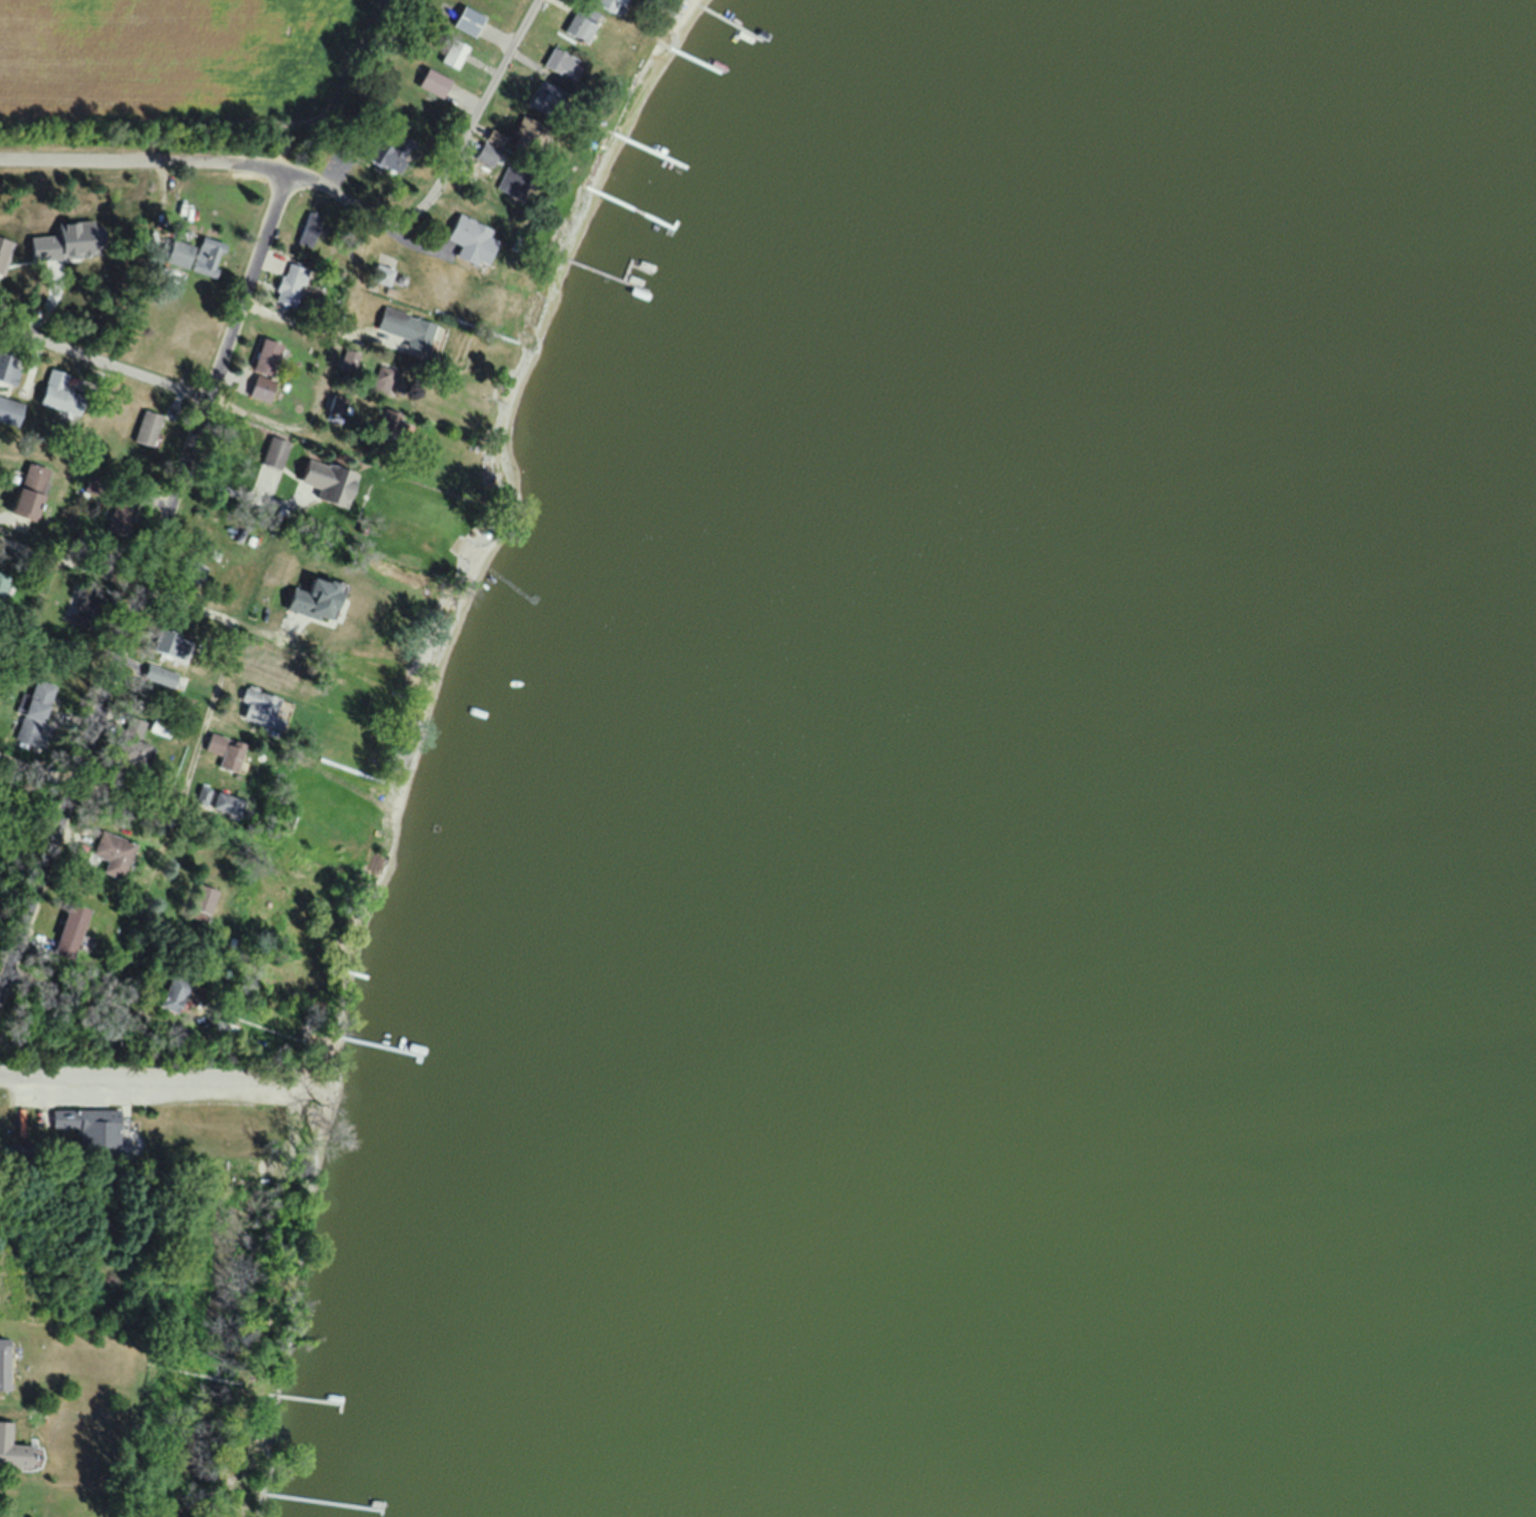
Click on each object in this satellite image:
building: (602, 4)
building: (470, 22)
building: (579, 23)
building: (455, 55)
building: (556, 63)
building: (434, 83)
building: (543, 97)
road: (479, 122)
building: (493, 139)
building: (485, 154)
building: (387, 156)
road: (206, 163)
building: (510, 182)
building: (309, 229)
building: (469, 240)
building: (194, 256)
building: (381, 275)
building: (287, 285)
building: (403, 328)
road: (347, 341)
road: (106, 363)
building: (9, 370)
building: (263, 370)
building: (382, 379)
building: (55, 392)
building: (336, 404)
building: (6, 411)
building: (274, 453)
road: (359, 459)
building: (327, 481)
building: (27, 489)
road: (240, 495)
building: (191, 569)
building: (4, 585)
road: (147, 585)
building: (312, 598)
building: (84, 604)
road: (218, 614)
building: (170, 643)
building: (274, 673)
building: (160, 674)
road: (225, 675)
building: (260, 706)
building: (33, 713)
building: (134, 724)
building: (159, 726)
building: (127, 750)
building: (226, 750)
building: (218, 801)
road: (188, 824)
building: (113, 853)
building: (203, 899)
building: (70, 928)
building: (168, 994)
building: (220, 1027)
road: (159, 1083)
building: (88, 1125)
building: (11, 1450)

